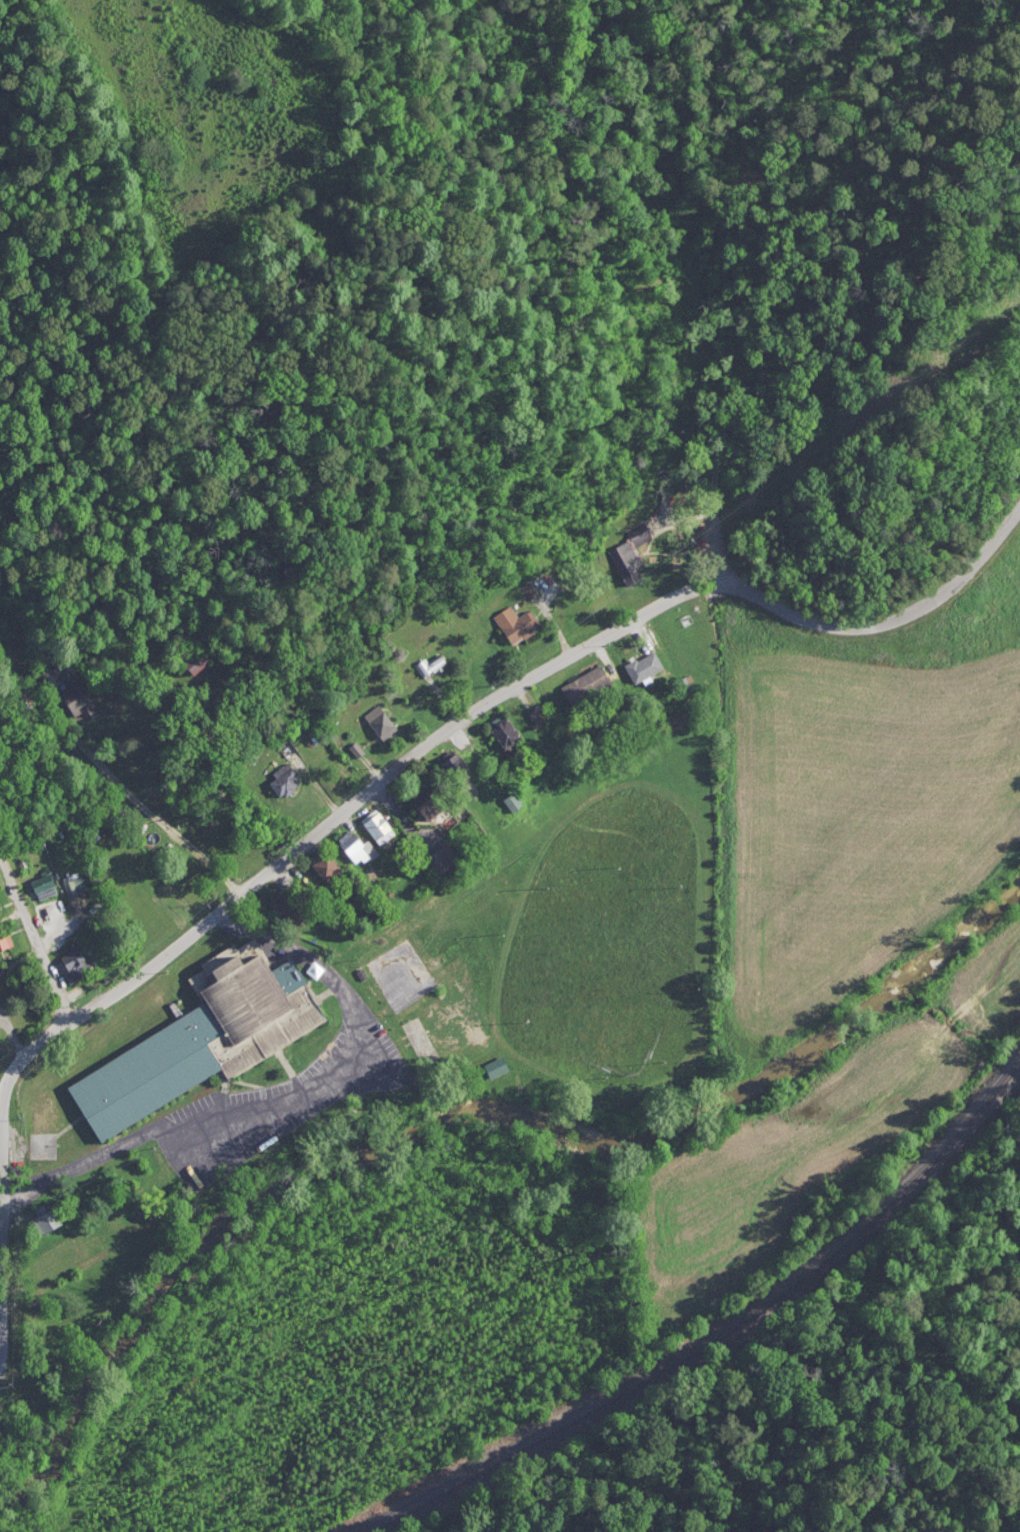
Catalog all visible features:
building: (744, 394)
road: (714, 538)
building: (626, 558)
building: (530, 591)
building: (511, 622)
building: (189, 663)
building: (427, 665)
building: (639, 666)
building: (586, 688)
building: (72, 700)
road: (475, 710)
building: (379, 723)
building: (507, 735)
building: (357, 751)
building: (449, 767)
building: (282, 781)
building: (513, 805)
building: (426, 807)
road: (149, 811)
building: (373, 826)
building: (350, 846)
building: (442, 862)
building: (322, 867)
building: (70, 885)
building: (43, 890)
building: (292, 907)
building: (2, 939)
road: (34, 940)
building: (73, 962)
building: (362, 976)
building: (204, 1037)
building: (497, 1069)
road: (284, 1104)
building: (48, 1224)
railway: (814, 1269)
road: (0, 1282)
railway: (467, 1477)

